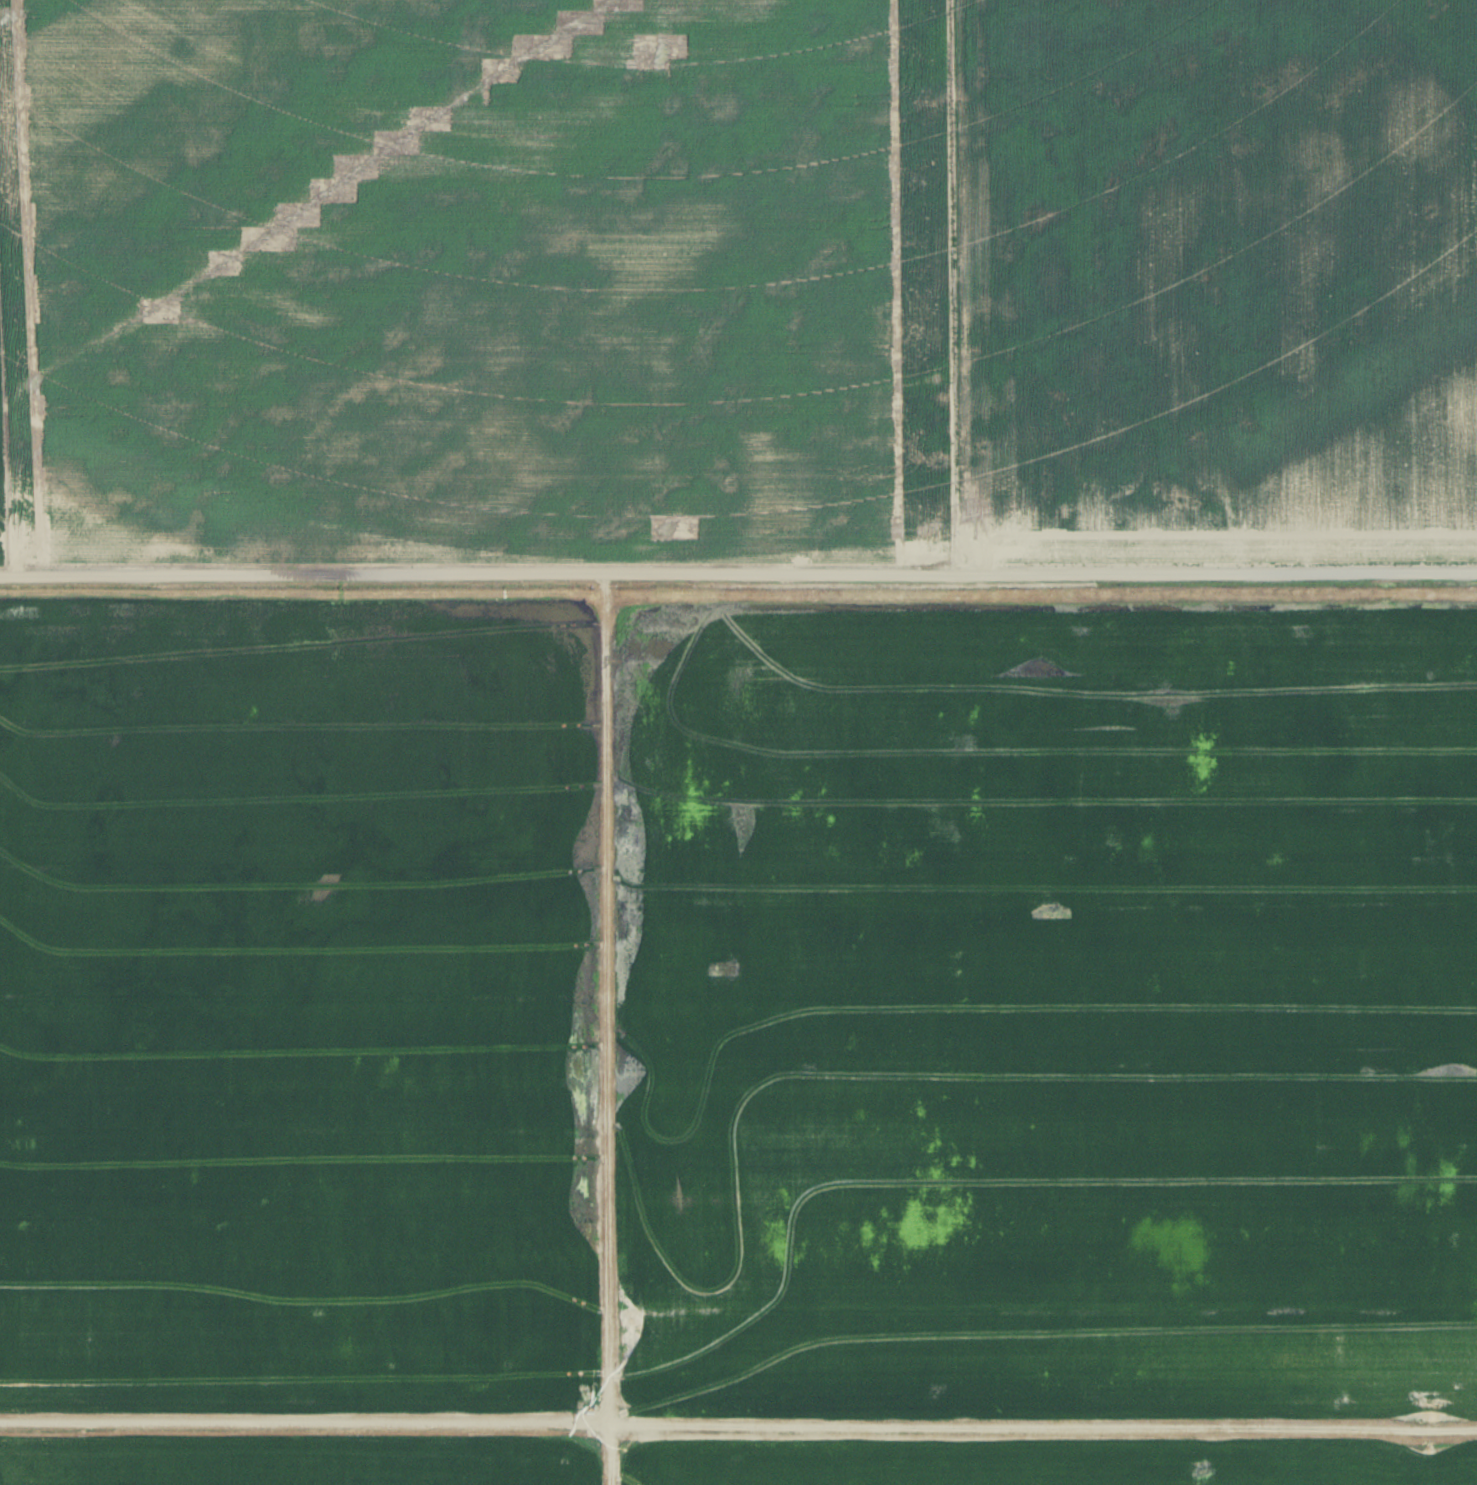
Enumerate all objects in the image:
road: (346, 596)

